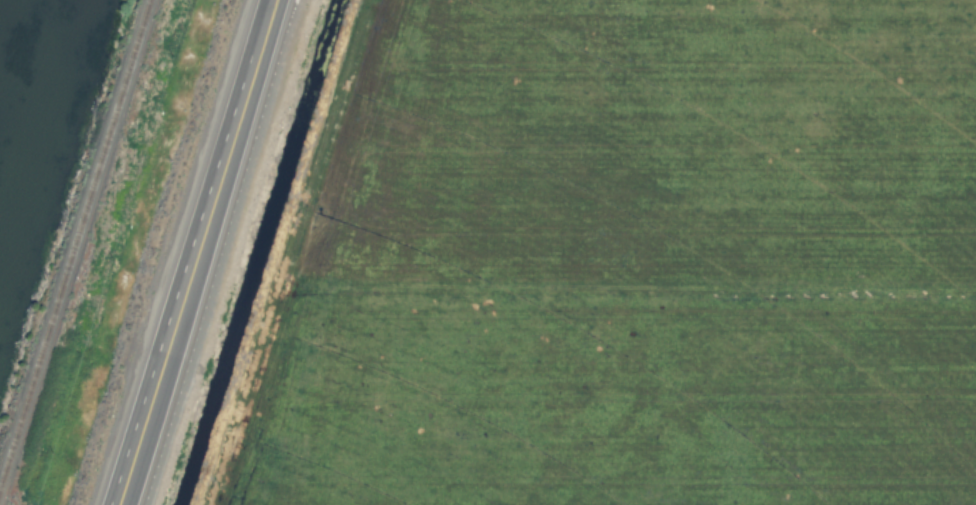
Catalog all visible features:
road: (267, 5)
railway: (73, 238)
road: (190, 258)
crop: (618, 261)

